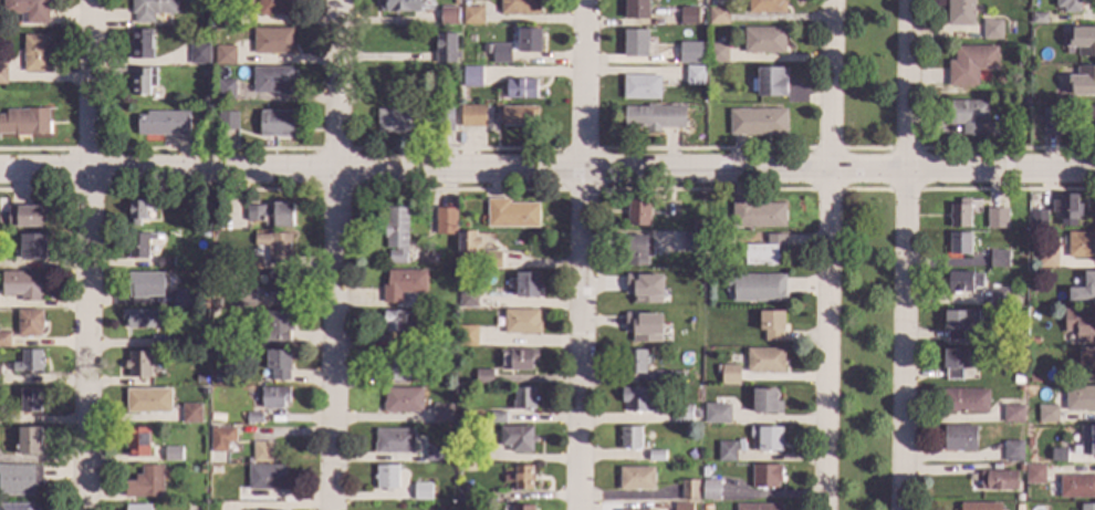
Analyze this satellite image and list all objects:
building: (400, 4)
building: (1068, 4)
building: (765, 6)
building: (275, 7)
building: (519, 7)
building: (150, 9)
building: (636, 9)
building: (27, 10)
building: (960, 12)
building: (448, 14)
building: (472, 14)
building: (688, 14)
building: (717, 15)
building: (229, 17)
building: (1039, 18)
building: (991, 30)
building: (272, 40)
building: (529, 40)
building: (763, 40)
building: (1083, 40)
building: (635, 43)
building: (142, 44)
building: (445, 48)
building: (698, 48)
building: (487, 49)
building: (35, 53)
building: (199, 53)
building: (501, 53)
building: (717, 53)
building: (223, 54)
building: (970, 64)
building: (2, 73)
building: (202, 73)
building: (695, 75)
building: (471, 76)
building: (272, 80)
building: (140, 81)
building: (771, 81)
building: (1083, 81)
road: (584, 84)
road: (828, 84)
road: (907, 85)
building: (640, 86)
building: (225, 89)
building: (520, 89)
building: (440, 97)
building: (1026, 103)
building: (968, 114)
building: (472, 115)
building: (517, 115)
building: (653, 116)
building: (444, 118)
building: (226, 121)
building: (397, 121)
building: (757, 121)
building: (24, 122)
building: (1050, 122)
building: (1091, 122)
building: (163, 123)
building: (275, 123)
road: (291, 169)
road: (705, 169)
road: (866, 170)
road: (1000, 170)
building: (1033, 197)
building: (1067, 209)
building: (139, 210)
building: (646, 211)
building: (270, 214)
building: (511, 214)
building: (757, 214)
building: (960, 215)
building: (25, 216)
building: (997, 218)
building: (1037, 218)
building: (445, 220)
building: (395, 232)
building: (692, 240)
building: (960, 242)
building: (139, 244)
building: (1081, 244)
building: (467, 246)
building: (33, 247)
building: (274, 247)
building: (638, 250)
building: (763, 251)
road: (91, 254)
road: (336, 254)
building: (415, 258)
building: (429, 258)
building: (1047, 258)
building: (491, 259)
building: (999, 259)
building: (164, 262)
building: (249, 262)
building: (1034, 274)
building: (693, 277)
building: (963, 281)
building: (280, 282)
building: (22, 284)
building: (145, 284)
building: (403, 284)
building: (526, 284)
building: (687, 285)
building: (644, 287)
building: (755, 287)
building: (1084, 290)
building: (244, 295)
building: (467, 296)
building: (999, 296)
building: (181, 298)
building: (140, 319)
building: (521, 321)
building: (685, 321)
building: (29, 322)
building: (959, 323)
building: (401, 324)
building: (771, 324)
building: (1081, 324)
building: (643, 326)
building: (277, 327)
building: (3, 335)
building: (467, 335)
building: (1019, 339)
road: (581, 340)
road: (825, 340)
building: (1032, 340)
building: (161, 341)
building: (448, 341)
road: (904, 341)
building: (708, 352)
building: (517, 360)
building: (764, 360)
building: (29, 361)
building: (635, 361)
building: (1087, 361)
building: (956, 363)
building: (138, 364)
building: (279, 364)
building: (393, 365)
building: (676, 374)
building: (730, 374)
building: (483, 376)
building: (660, 376)
building: (217, 378)
building: (1018, 378)
building: (1033, 378)
building: (1021, 388)
building: (274, 396)
building: (523, 398)
building: (635, 398)
building: (1081, 398)
building: (31, 399)
building: (148, 399)
building: (403, 400)
building: (966, 400)
building: (766, 402)
building: (190, 413)
building: (441, 413)
building: (717, 413)
building: (682, 414)
building: (696, 414)
building: (1013, 414)
building: (1047, 414)
building: (215, 416)
road: (1082, 416)
building: (498, 417)
building: (254, 418)
building: (629, 437)
building: (221, 438)
building: (518, 438)
building: (765, 438)
building: (959, 438)
building: (29, 440)
building: (394, 440)
building: (1029, 440)
building: (136, 441)
building: (1086, 441)
building: (261, 450)
building: (474, 450)
building: (727, 450)
building: (1013, 450)
building: (173, 452)
building: (435, 452)
building: (691, 454)
building: (1058, 454)
building: (656, 455)
building: (995, 466)
building: (201, 467)
building: (1021, 468)
building: (213, 469)
building: (705, 471)
building: (1035, 473)
building: (386, 476)
building: (766, 476)
building: (267, 477)
building: (520, 477)
building: (20, 478)
building: (636, 478)
building: (999, 480)
building: (146, 482)
building: (1077, 487)
building: (689, 489)
building: (421, 490)
building: (711, 490)
building: (1020, 499)
building: (682, 506)
building: (981, 506)
building: (19, 507)
building: (138, 507)
building: (713, 507)
building: (758, 507)
building: (1019, 507)
building: (1087, 507)
building: (522, 508)
building: (649, 509)

